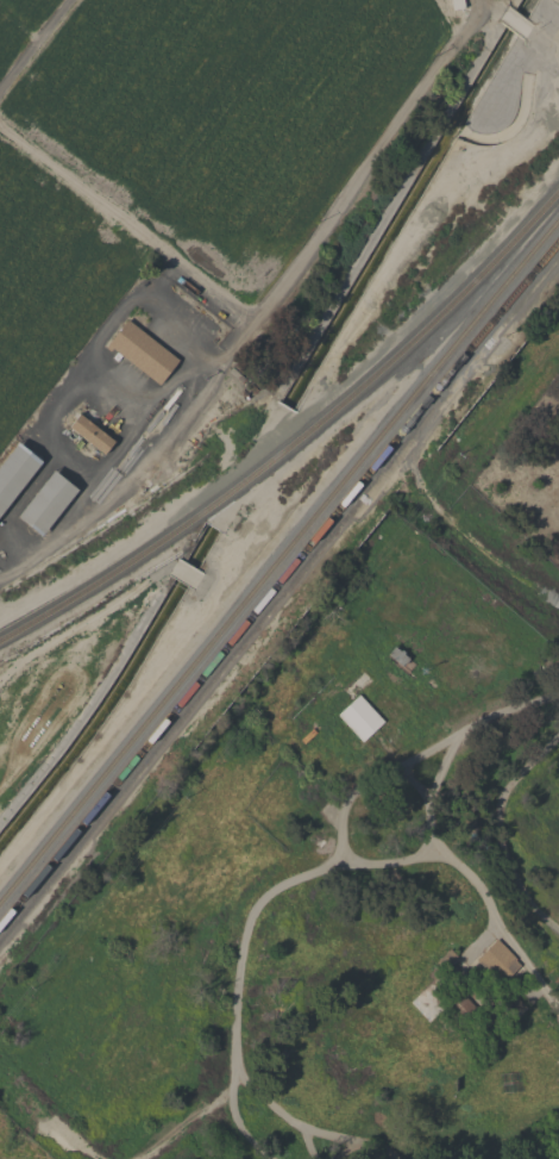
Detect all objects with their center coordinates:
road: (34, 44)
railway: (508, 242)
railway: (525, 255)
railway: (532, 272)
crop: (215, 303)
road: (263, 309)
building: (142, 351)
building: (92, 434)
building: (15, 473)
railway: (240, 486)
building: (46, 504)
railway: (244, 598)
railway: (251, 615)
building: (397, 655)
building: (360, 718)
road: (369, 778)
road: (498, 830)
road: (307, 876)
road: (495, 920)
building: (445, 959)
building: (498, 961)
building: (465, 1005)
road: (268, 1104)
road: (353, 1140)
road: (62, 1144)
road: (308, 1147)
road: (52, 1151)

